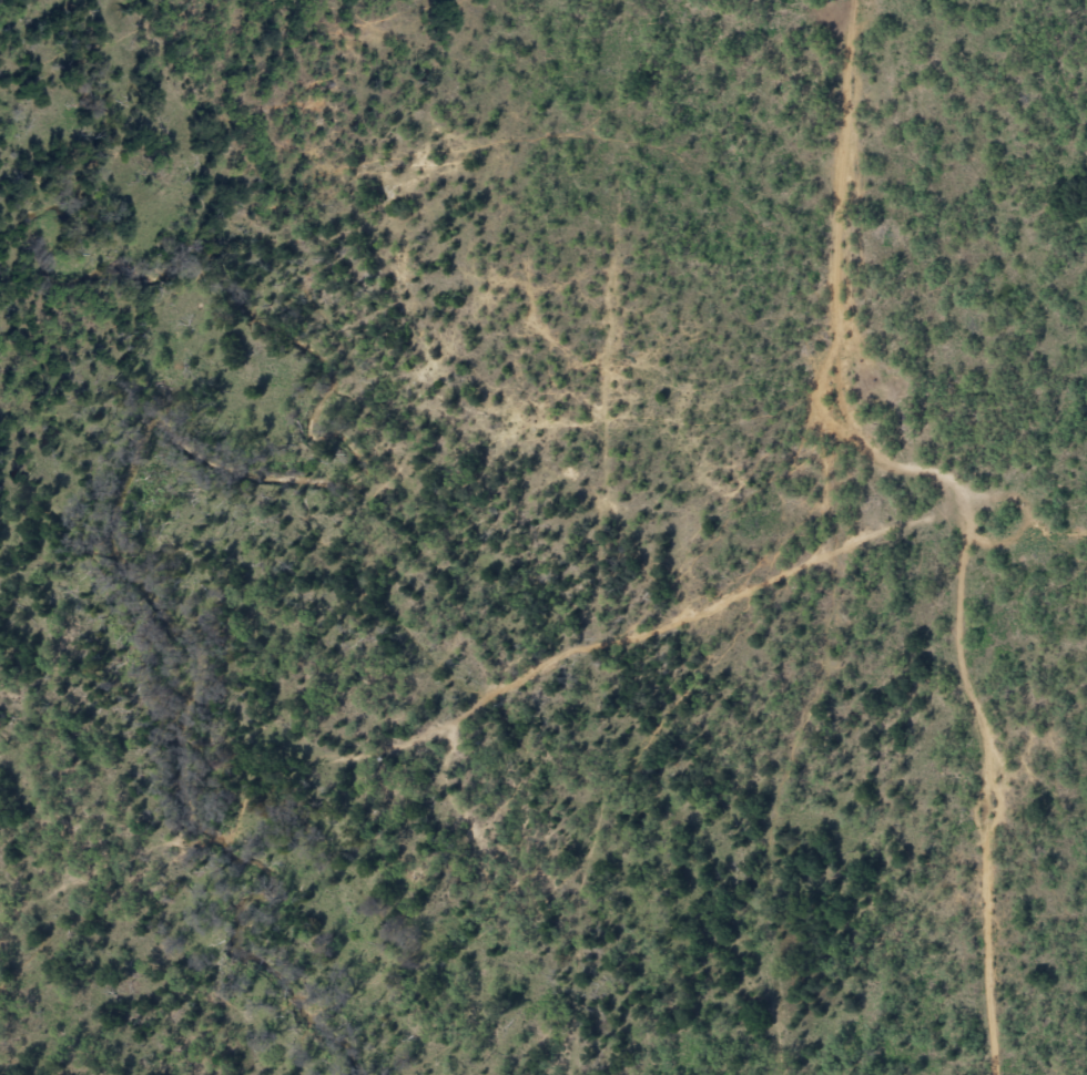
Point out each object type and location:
road: (874, 550)

